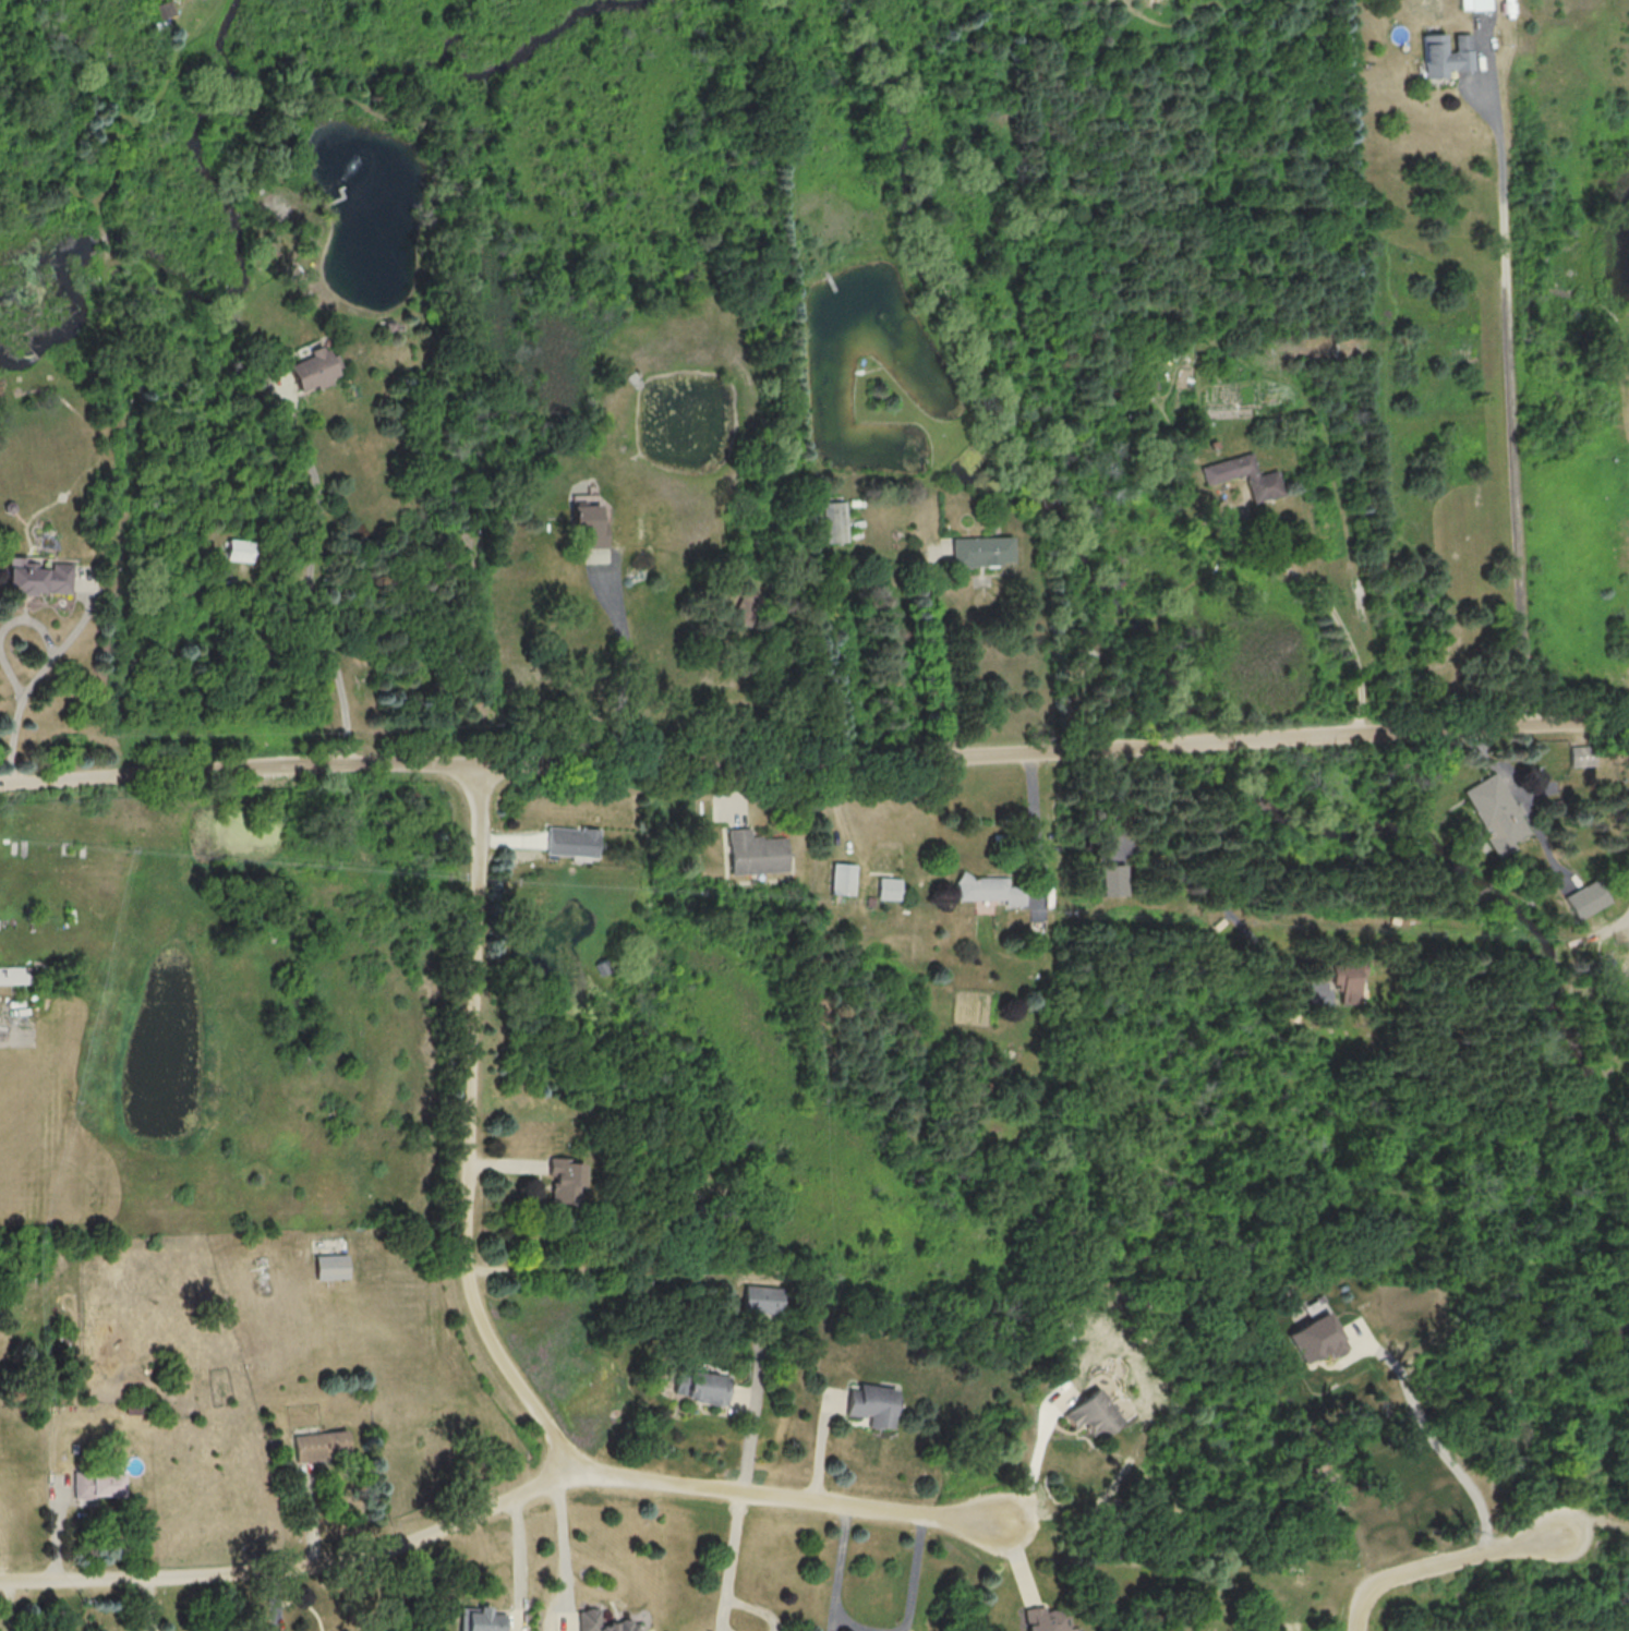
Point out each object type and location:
building: (1474, 4)
building: (167, 9)
building: (1446, 53)
building: (314, 369)
road: (1512, 402)
building: (1265, 479)
building: (836, 519)
building: (588, 525)
building: (239, 549)
building: (982, 551)
building: (37, 577)
road: (312, 584)
road: (1334, 607)
road: (5, 631)
road: (938, 659)
road: (625, 672)
road: (37, 679)
building: (1581, 754)
road: (814, 763)
road: (1498, 769)
building: (1496, 812)
road: (1035, 814)
building: (571, 841)
building: (756, 853)
building: (842, 878)
building: (1112, 880)
road: (1194, 883)
building: (889, 887)
building: (991, 887)
building: (1588, 898)
building: (13, 975)
road: (466, 1133)
building: (565, 1181)
building: (331, 1266)
building: (762, 1298)
building: (1317, 1338)
road: (1400, 1370)
building: (703, 1387)
building: (872, 1404)
road: (753, 1408)
building: (1094, 1414)
road: (1421, 1415)
building: (322, 1445)
road: (1041, 1464)
road: (1469, 1483)
building: (99, 1484)
road: (500, 1507)
road: (563, 1539)
road: (731, 1561)
road: (520, 1566)
road: (1444, 1567)
road: (916, 1575)
road: (838, 1579)
building: (482, 1620)
building: (1046, 1620)
building: (602, 1622)

